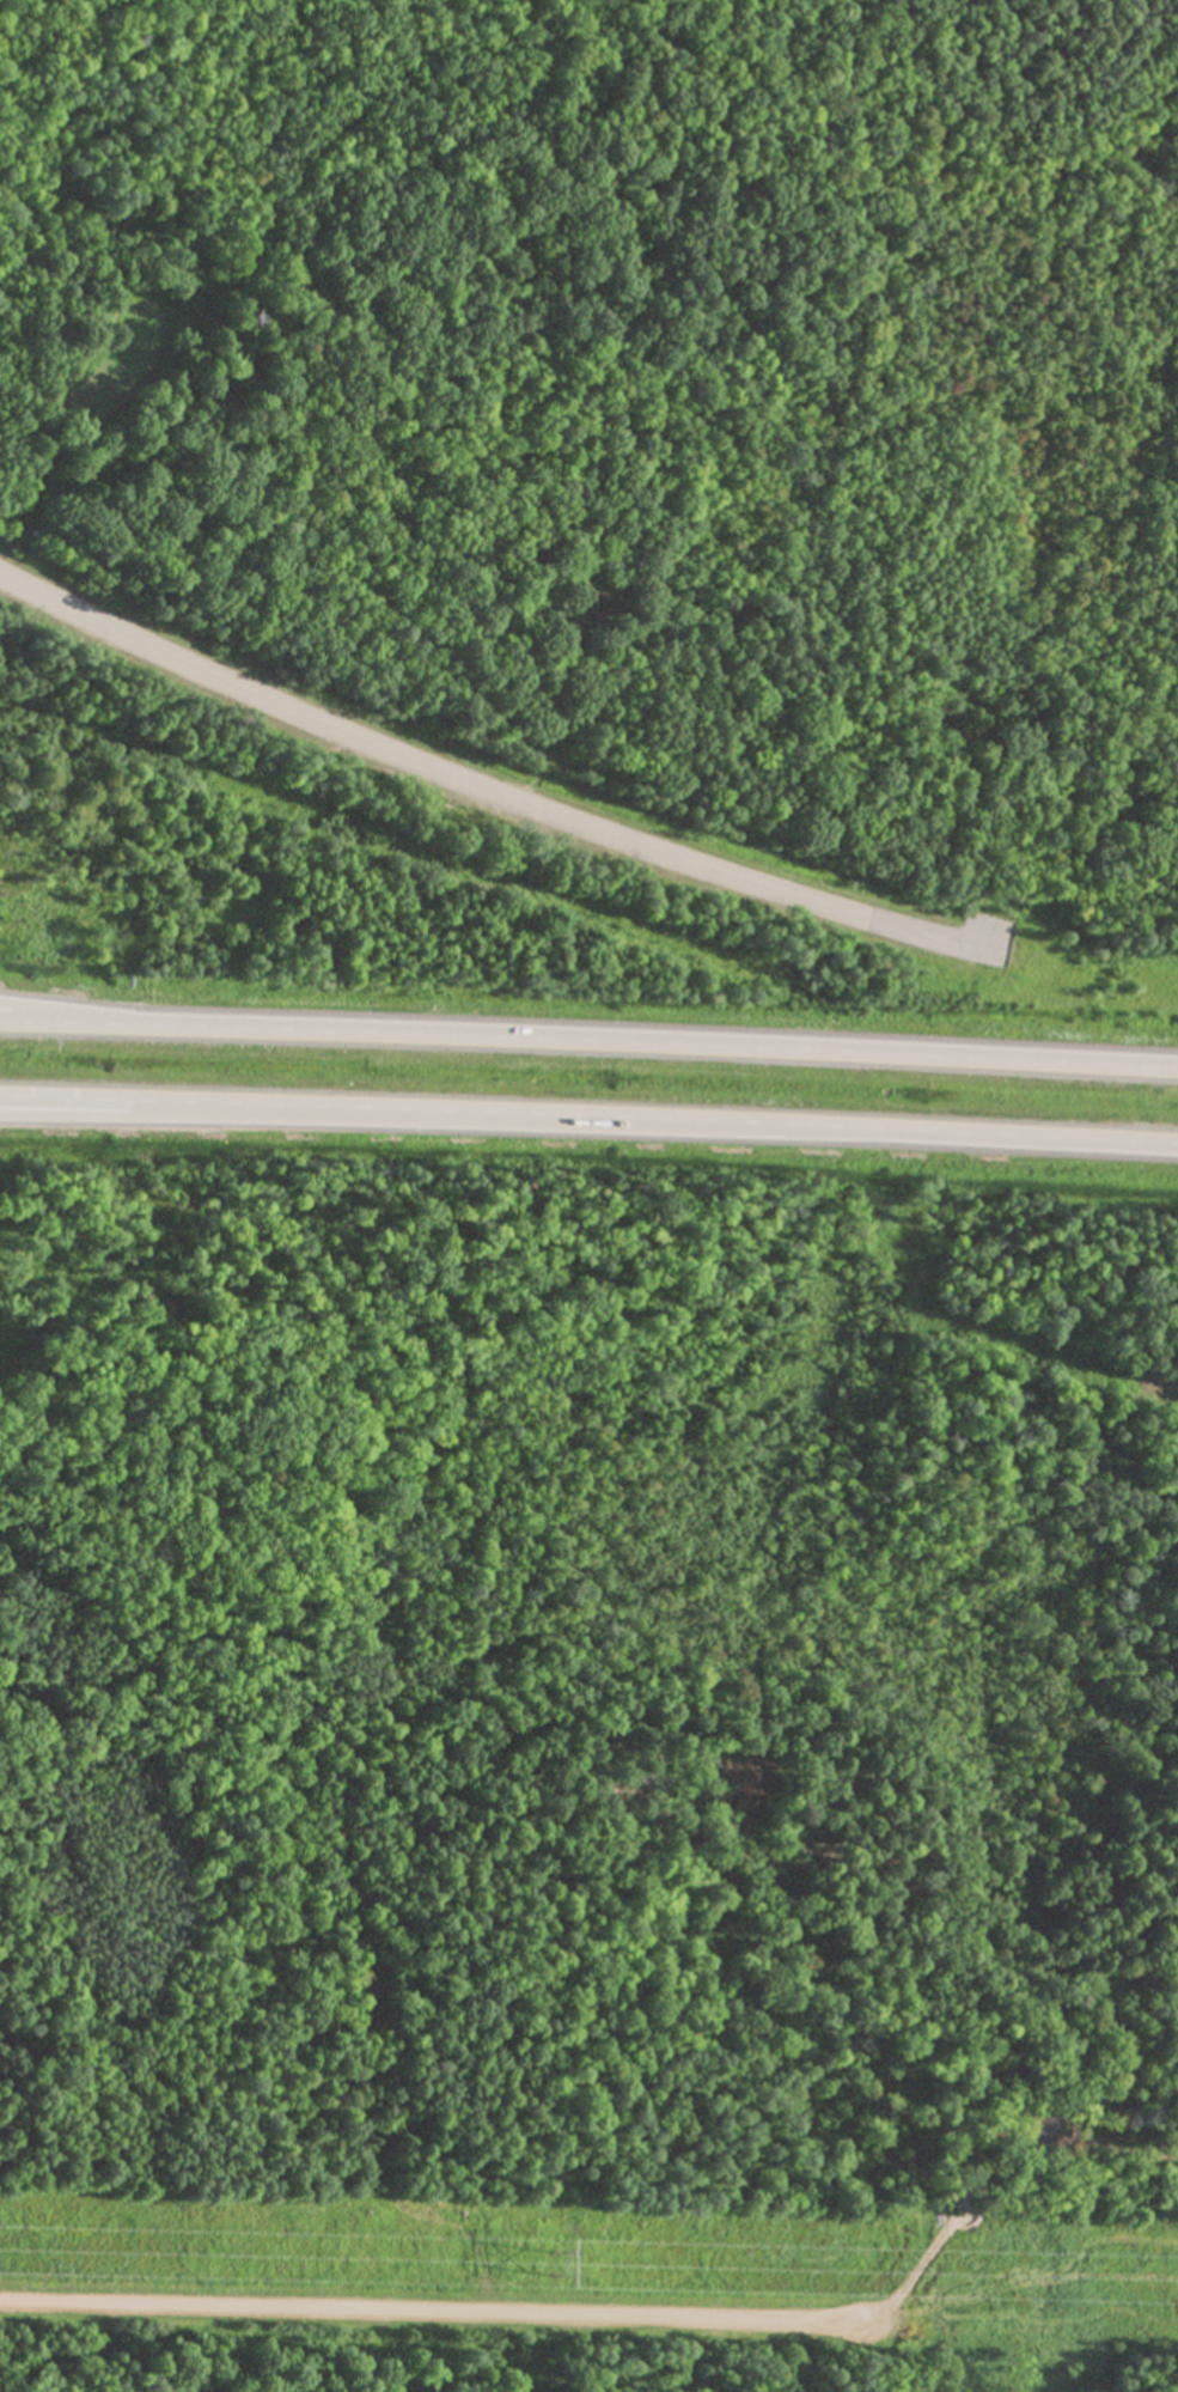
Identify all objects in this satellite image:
park: (1086, 479)
road: (483, 787)
road: (73, 1011)
road: (588, 1037)
road: (148, 1114)
road: (588, 1114)
road: (427, 2313)

